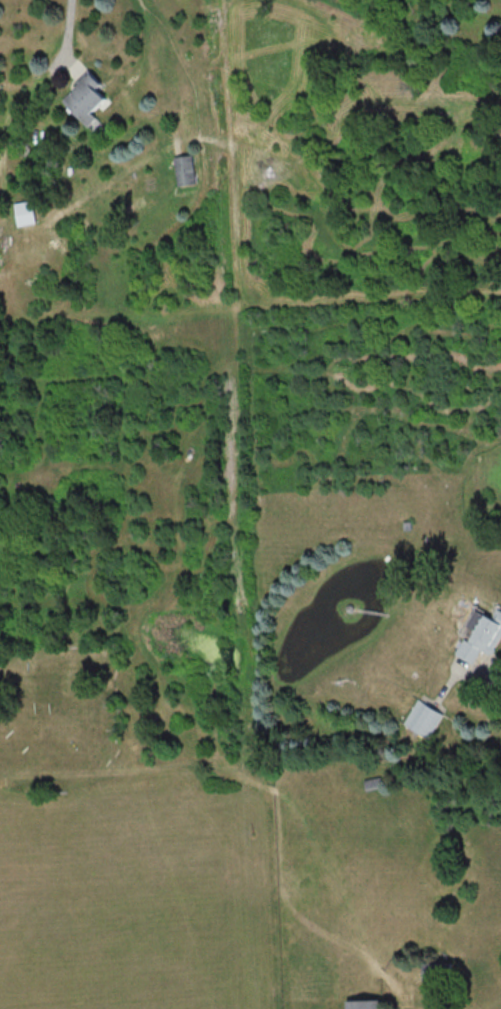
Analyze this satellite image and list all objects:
road: (69, 25)
building: (84, 97)
building: (185, 168)
building: (24, 211)
building: (480, 634)
building: (423, 719)
building: (437, 969)
building: (362, 1002)

